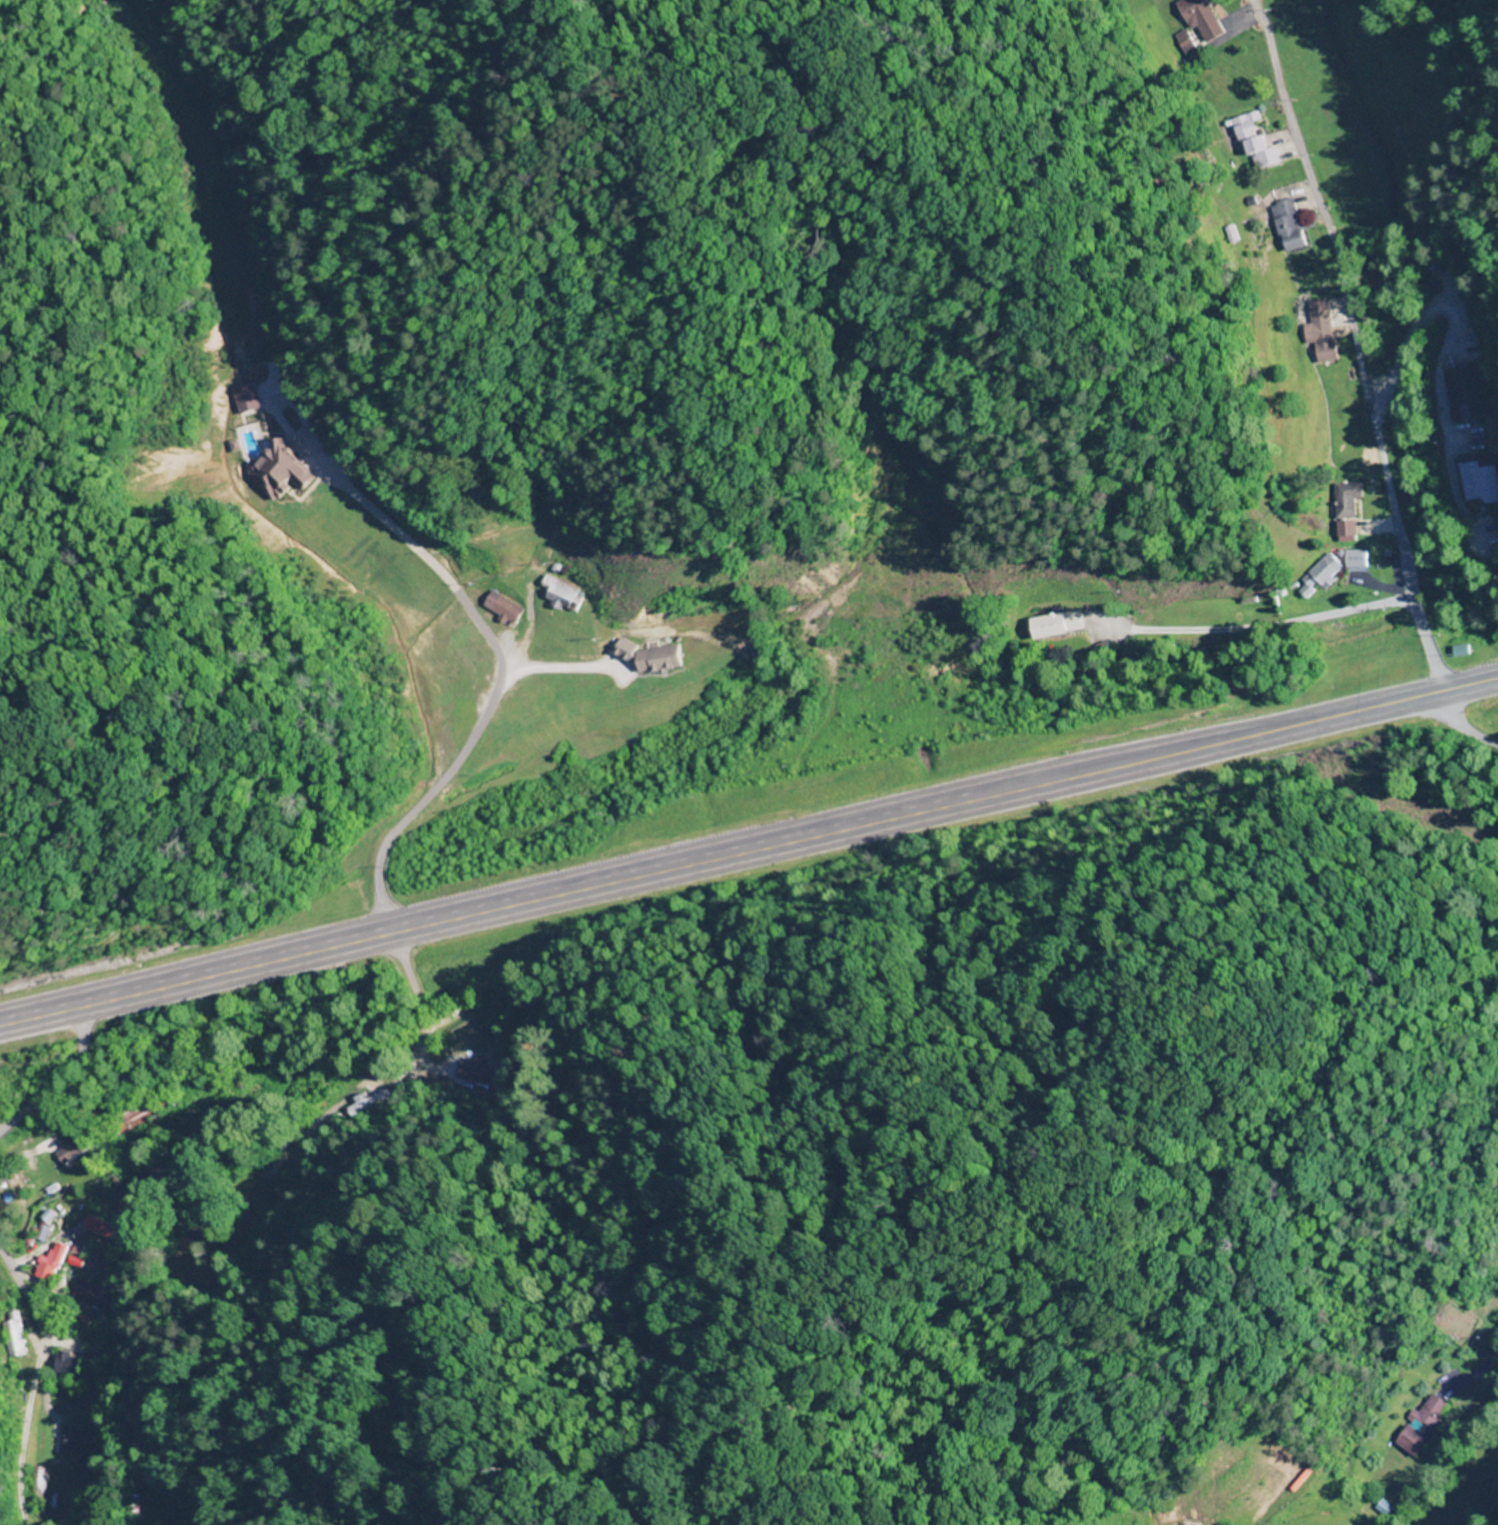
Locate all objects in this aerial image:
building: (1204, 20)
building: (1260, 143)
building: (1294, 232)
building: (1320, 332)
building: (244, 337)
road: (1352, 346)
building: (1468, 394)
building: (1481, 480)
building: (1343, 509)
building: (1352, 559)
building: (1313, 578)
building: (558, 593)
building: (498, 608)
road: (1270, 623)
building: (1055, 624)
building: (1459, 651)
building: (658, 659)
road: (1461, 733)
road: (748, 856)
road: (402, 942)
building: (471, 1056)
road: (418, 1064)
road: (62, 1085)
building: (367, 1101)
building: (129, 1108)
building: (66, 1148)
building: (148, 1174)
building: (95, 1229)
building: (38, 1231)
building: (44, 1264)
road: (4, 1274)
building: (101, 1277)
park: (1455, 1318)
building: (9, 1334)
building: (1423, 1425)
building: (74, 1441)

